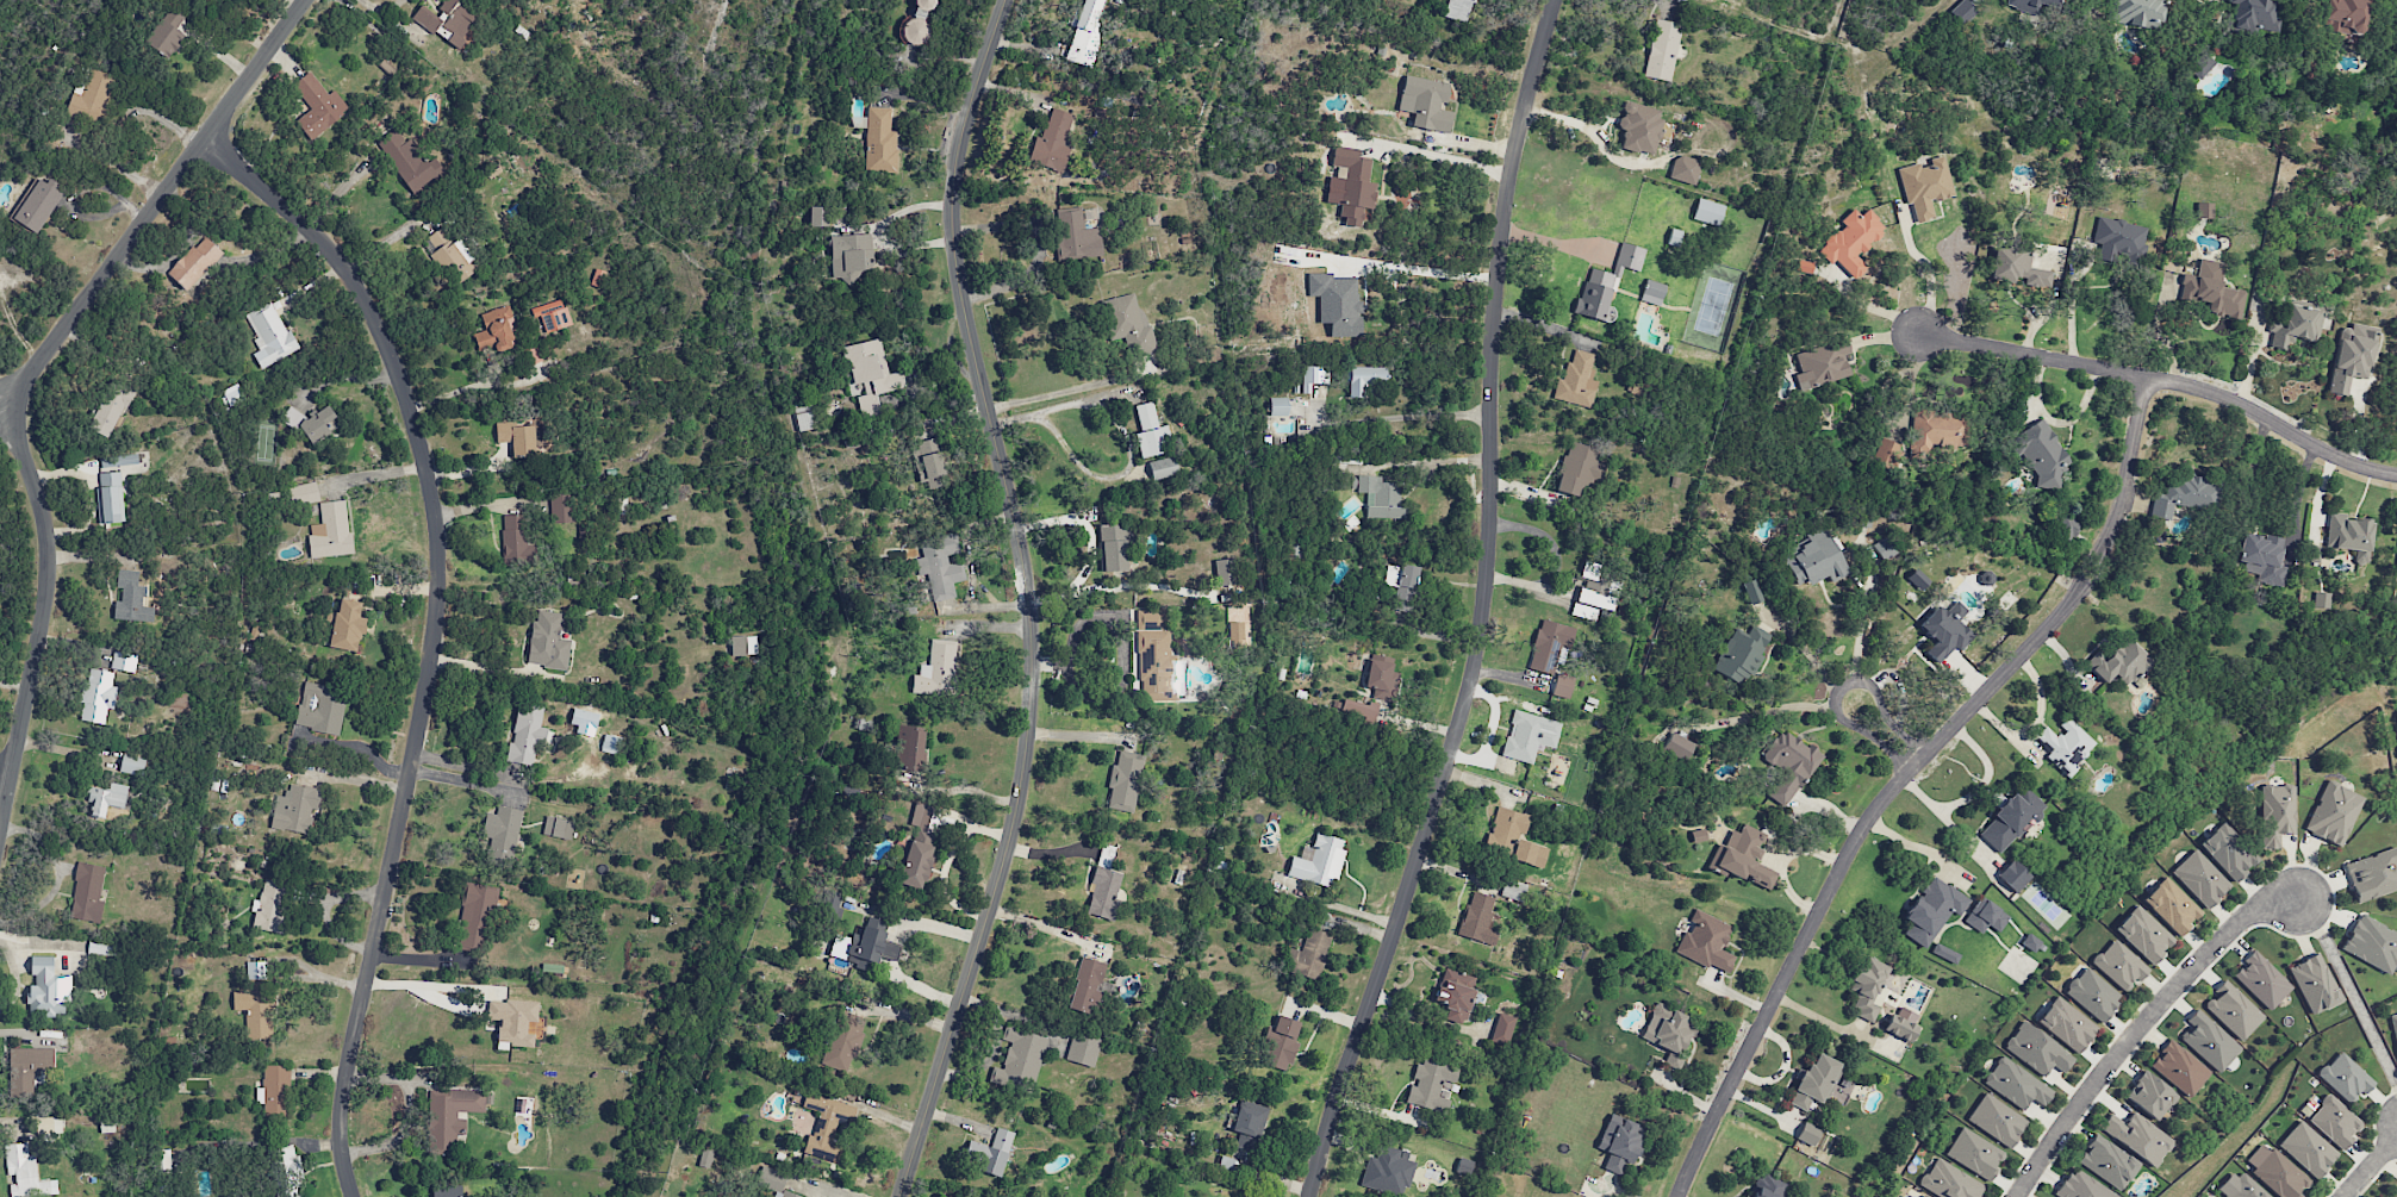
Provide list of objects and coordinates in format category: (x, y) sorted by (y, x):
building: (2048, 0)
building: (2025, 5)
road: (382, 6)
building: (1458, 10)
building: (1961, 12)
building: (2135, 12)
building: (2345, 15)
building: (2253, 17)
building: (448, 20)
building: (917, 23)
building: (1085, 33)
building: (164, 38)
building: (1662, 50)
building: (2202, 67)
building: (91, 96)
building: (1426, 102)
building: (317, 106)
building: (1642, 127)
building: (1053, 139)
building: (879, 141)
building: (409, 162)
road: (1439, 163)
building: (1685, 169)
building: (1352, 185)
building: (1924, 186)
building: (37, 204)
building: (2203, 210)
building: (1707, 212)
building: (818, 217)
building: (1076, 236)
building: (2118, 239)
building: (1851, 242)
building: (452, 254)
building: (851, 256)
building: (194, 263)
building: (1805, 267)
building: (2016, 268)
road: (1419, 269)
road: (2072, 276)
road: (1926, 280)
building: (1606, 283)
building: (2212, 289)
building: (1652, 292)
building: (1337, 303)
building: (554, 316)
building: (1127, 322)
building: (2296, 326)
building: (497, 330)
building: (269, 333)
building: (531, 355)
building: (2351, 356)
building: (1820, 364)
building: (870, 374)
building: (1313, 376)
road: (24, 378)
road: (2167, 378)
building: (1364, 380)
building: (1576, 380)
road: (477, 385)
road: (1060, 393)
building: (1277, 406)
road: (2, 412)
road: (1407, 418)
building: (104, 420)
building: (309, 422)
building: (1148, 431)
building: (1934, 432)
road: (1126, 436)
building: (517, 438)
building: (1886, 454)
building: (2040, 454)
building: (928, 462)
building: (1579, 467)
building: (303, 494)
building: (2185, 494)
building: (110, 497)
building: (1381, 497)
building: (561, 507)
building: (2065, 528)
building: (330, 530)
building: (2349, 535)
building: (515, 541)
building: (1113, 547)
building: (1885, 548)
building: (2262, 557)
building: (1812, 559)
building: (940, 566)
building: (1224, 572)
building: (1918, 579)
building: (1402, 585)
building: (1594, 591)
building: (1751, 591)
building: (132, 599)
road: (1026, 599)
building: (2322, 600)
road: (1482, 607)
building: (1151, 619)
building: (345, 625)
road: (1861, 631)
building: (1944, 631)
road: (434, 634)
building: (548, 642)
building: (743, 644)
building: (1549, 646)
road: (1811, 652)
building: (1741, 654)
building: (123, 661)
building: (2119, 662)
building: (1160, 668)
building: (936, 669)
building: (1382, 678)
building: (1562, 686)
building: (98, 696)
building: (320, 707)
building: (1356, 709)
building: (527, 732)
road: (1881, 732)
building: (1529, 736)
building: (2063, 743)
building: (909, 747)
building: (1677, 747)
building: (1789, 766)
road: (1907, 775)
road: (5, 780)
building: (1125, 781)
road: (462, 783)
road: (1979, 793)
building: (106, 798)
building: (295, 809)
building: (2275, 813)
building: (2333, 813)
building: (2011, 819)
building: (558, 828)
building: (502, 829)
building: (1698, 835)
building: (1513, 838)
building: (919, 846)
building: (2228, 850)
building: (1742, 856)
building: (1319, 861)
building: (2373, 874)
building: (2013, 875)
building: (2200, 878)
building: (1103, 886)
building: (87, 892)
building: (834, 903)
building: (2172, 905)
building: (272, 906)
building: (1932, 910)
building: (1985, 916)
building: (475, 917)
building: (1477, 918)
road: (1044, 924)
road: (934, 925)
building: (2143, 934)
building: (1706, 941)
building: (2030, 942)
building: (2372, 943)
building: (870, 948)
building: (1944, 953)
building: (1308, 955)
building: (2119, 965)
road: (12, 975)
building: (2261, 980)
building: (2314, 984)
building: (1087, 985)
road: (917, 986)
building: (1867, 986)
road: (425, 987)
building: (48, 989)
road: (2349, 989)
building: (1455, 993)
building: (2092, 995)
building: (2233, 1010)
building: (512, 1021)
building: (1901, 1023)
building: (2066, 1024)
building: (2395, 1025)
road: (2137, 1027)
building: (1502, 1029)
building: (1668, 1031)
building: (841, 1041)
building: (2209, 1041)
building: (1282, 1042)
building: (1083, 1048)
building: (2036, 1049)
building: (1019, 1060)
building: (29, 1067)
building: (2179, 1068)
building: (2345, 1078)
building: (1816, 1081)
building: (2016, 1084)
building: (1431, 1085)
building: (274, 1091)
building: (2150, 1095)
road: (409, 1111)
building: (450, 1116)
building: (1996, 1120)
building: (827, 1121)
building: (2334, 1122)
building: (54, 1124)
building: (1249, 1124)
building: (1808, 1134)
building: (2137, 1136)
building: (1619, 1142)
building: (2308, 1148)
building: (990, 1152)
building: (1974, 1153)
building: (164, 1160)
building: (2108, 1161)
building: (1226, 1164)
road: (2368, 1166)
building: (1388, 1171)
building: (24, 1172)
building: (2279, 1176)
building: (1949, 1180)
building: (774, 1182)
building: (2081, 1186)
building: (2240, 1186)
building: (1770, 1187)
building: (446, 1192)
building: (1924, 1196)

